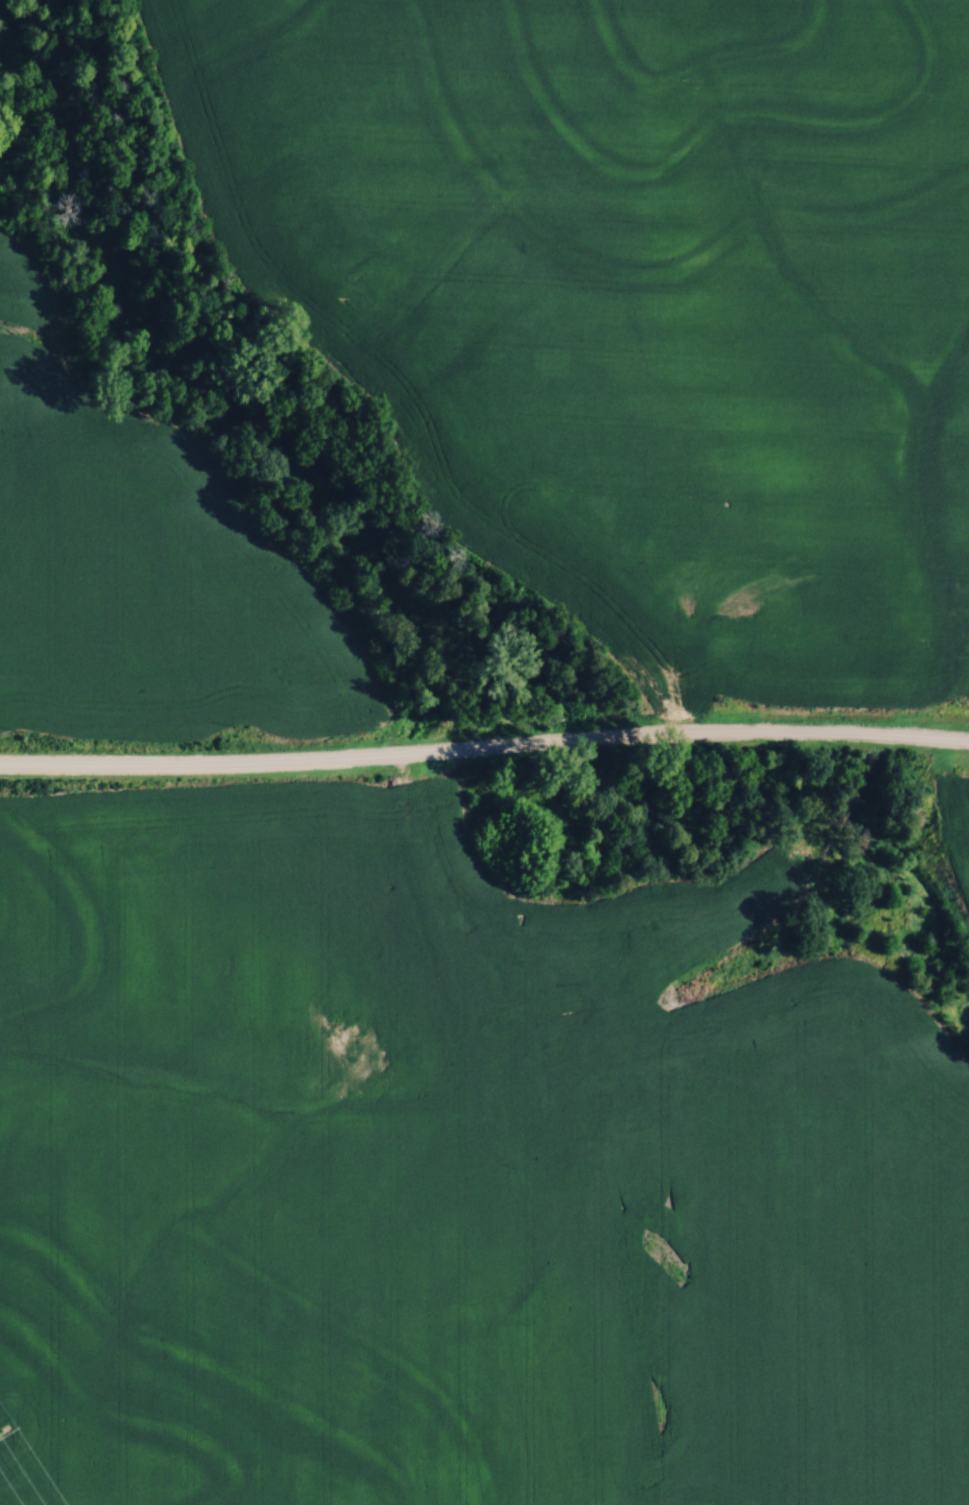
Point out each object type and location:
road: (484, 743)
road: (657, 805)

